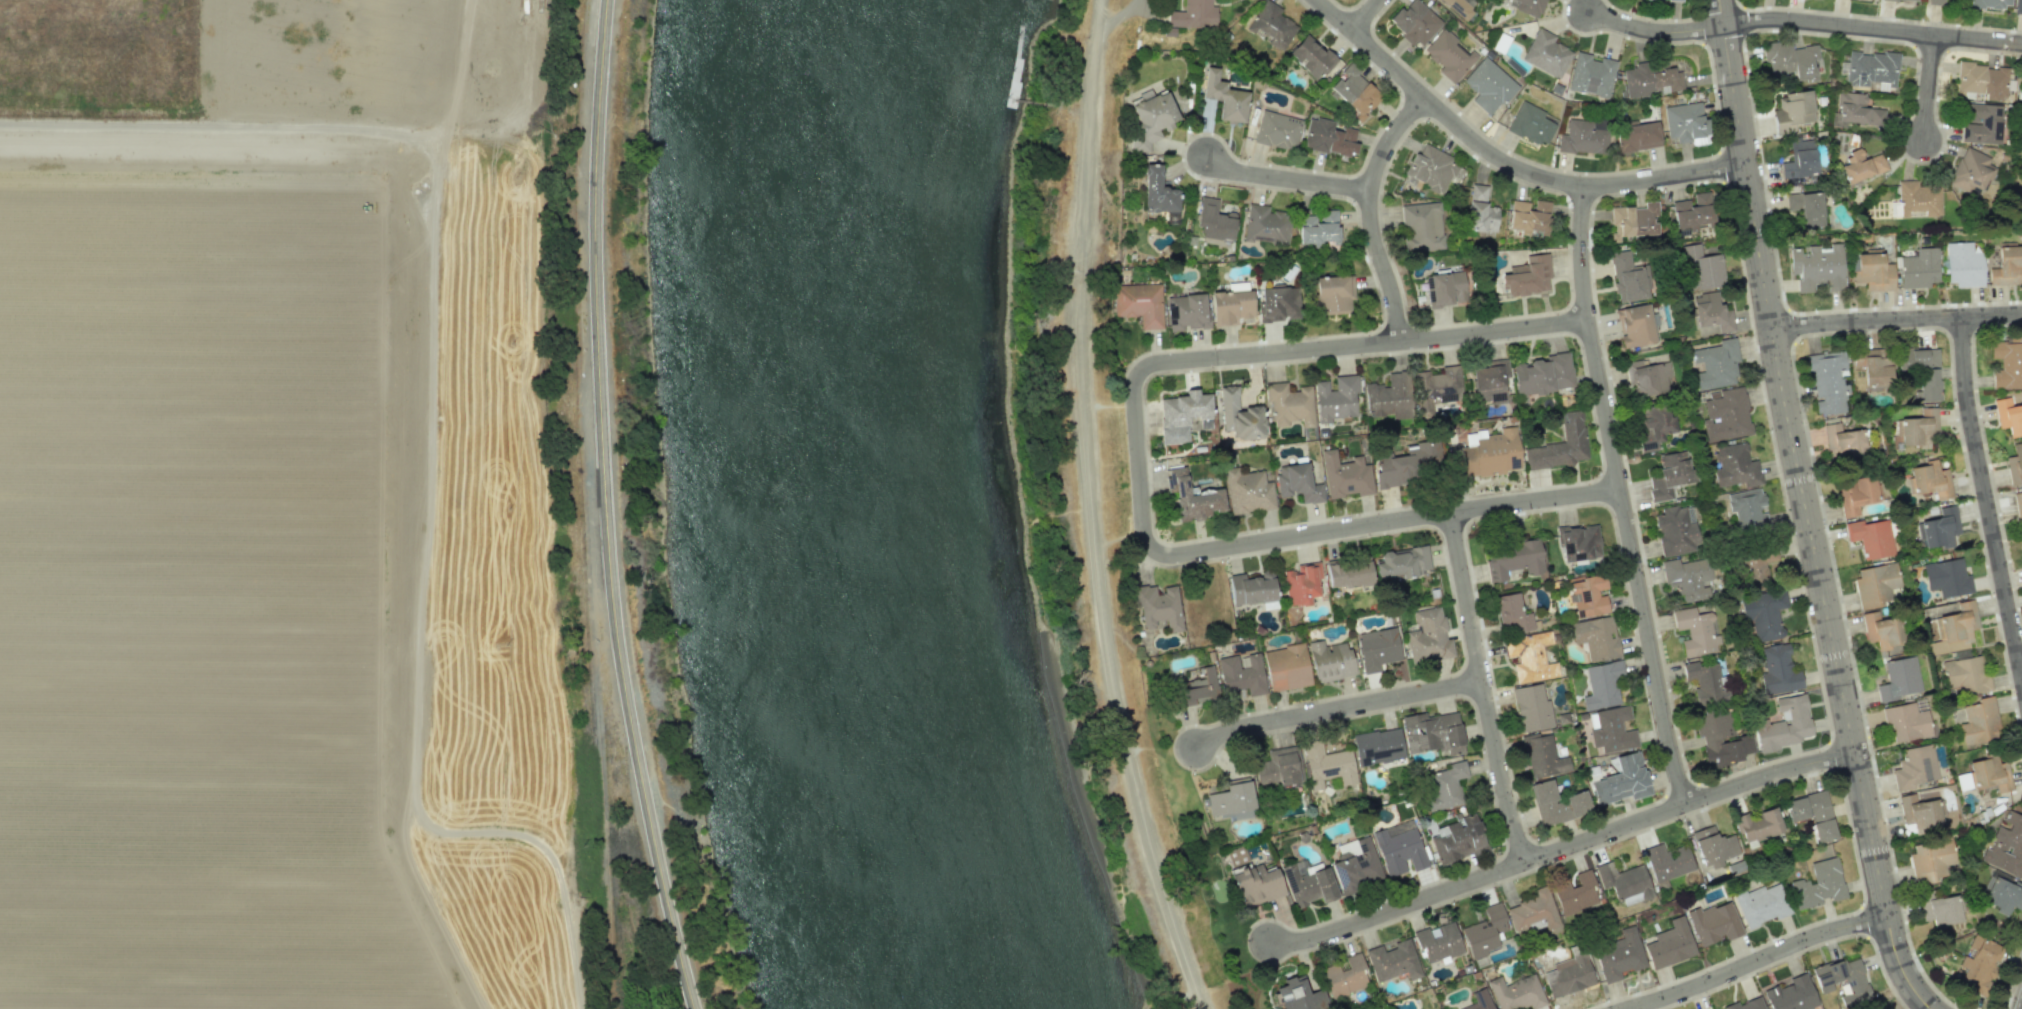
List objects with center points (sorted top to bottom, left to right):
building: (1668, 0)
building: (1917, 0)
building: (1936, 2)
building: (1991, 3)
building: (1458, 7)
building: (1529, 7)
building: (1194, 15)
road: (1367, 15)
building: (1415, 22)
building: (1272, 25)
road: (1657, 29)
road: (1874, 29)
building: (1546, 54)
building: (1310, 56)
building: (1449, 56)
building: (1790, 60)
building: (1869, 68)
building: (1591, 75)
building: (1652, 80)
building: (1982, 80)
building: (1488, 85)
road: (1929, 87)
building: (1354, 92)
building: (1224, 97)
building: (1856, 110)
building: (1792, 111)
building: (1150, 119)
building: (1686, 123)
building: (1532, 124)
building: (1981, 124)
building: (1277, 130)
building: (1329, 137)
building: (1584, 137)
building: (1636, 137)
building: (2021, 138)
building: (1799, 159)
road: (1507, 161)
building: (1861, 166)
building: (1430, 168)
building: (1970, 171)
road: (1289, 177)
building: (1158, 191)
building: (1918, 199)
building: (1806, 208)
building: (1480, 210)
building: (1692, 213)
road: (1373, 214)
building: (1529, 217)
building: (1633, 221)
building: (1215, 223)
building: (1265, 224)
building: (1421, 227)
building: (1318, 228)
building: (1962, 265)
building: (2006, 265)
building: (1817, 267)
building: (1918, 268)
building: (1701, 269)
building: (1873, 271)
building: (1527, 276)
building: (1626, 278)
building: (1445, 289)
building: (1333, 294)
building: (1139, 303)
building: (1231, 304)
building: (1278, 304)
building: (1186, 312)
building: (1710, 312)
road: (1897, 320)
building: (1635, 325)
building: (1917, 358)
building: (2007, 362)
building: (1715, 364)
building: (1875, 370)
building: (1543, 374)
building: (1648, 377)
building: (1490, 382)
building: (1827, 382)
building: (1927, 385)
building: (1436, 388)
building: (1390, 397)
building: (1335, 399)
building: (1289, 404)
building: (1725, 414)
building: (1183, 415)
building: (1239, 415)
building: (2008, 416)
building: (1654, 425)
building: (1918, 428)
building: (1842, 440)
building: (1560, 445)
building: (1488, 453)
building: (1405, 464)
building: (2015, 465)
building: (1734, 466)
road: (1142, 470)
building: (1345, 475)
building: (1669, 475)
building: (1929, 480)
building: (1297, 482)
building: (1249, 492)
building: (1856, 495)
road: (1624, 496)
building: (1191, 497)
road: (1987, 499)
building: (2019, 506)
building: (1747, 507)
road: (602, 508)
river: (852, 509)
road: (1088, 510)
road: (1809, 510)
building: (1940, 528)
building: (1676, 530)
building: (1870, 537)
building: (1579, 542)
building: (1513, 559)
building: (1401, 563)
building: (1756, 568)
building: (1349, 573)
building: (1687, 578)
building: (1947, 578)
building: (1301, 584)
building: (1875, 584)
building: (1251, 589)
building: (1588, 596)
building: (1158, 607)
building: (1512, 614)
building: (1763, 614)
building: (1882, 630)
building: (1695, 632)
building: (1428, 636)
building: (1595, 637)
building: (1377, 648)
building: (1529, 657)
building: (1330, 660)
building: (1286, 667)
building: (1778, 670)
building: (1242, 674)
building: (1964, 675)
building: (1899, 679)
building: (1706, 680)
building: (1602, 684)
building: (1198, 688)
road: (1485, 689)
building: (1531, 708)
road: (1338, 709)
building: (1979, 721)
building: (1784, 723)
building: (1906, 723)
building: (1611, 729)
building: (1432, 733)
building: (1720, 738)
building: (1377, 746)
building: (1542, 756)
building: (1326, 764)
building: (1914, 767)
building: (1277, 768)
building: (1990, 774)
building: (1622, 780)
building: (1445, 785)
building: (1231, 800)
building: (1556, 803)
building: (1919, 813)
building: (1812, 814)
building: (1758, 825)
building: (1458, 839)
building: (1713, 846)
building: (2006, 846)
building: (1399, 847)
road: (1562, 851)
building: (1236, 856)
building: (1930, 860)
building: (1667, 863)
building: (1355, 865)
building: (1624, 881)
building: (1257, 884)
building: (1308, 884)
building: (1819, 884)
building: (1576, 894)
building: (2001, 895)
building: (1761, 905)
building: (1533, 911)
building: (1940, 911)
building: (1713, 923)
building: (1485, 931)
building: (1438, 942)
building: (1670, 944)
building: (1619, 955)
road: (1757, 960)
building: (1393, 961)
building: (1978, 964)
building: (1569, 973)
building: (1345, 977)
building: (1843, 980)
building: (1517, 992)
building: (1299, 995)
building: (1791, 995)
building: (1480, 1000)
building: (1746, 1004)

